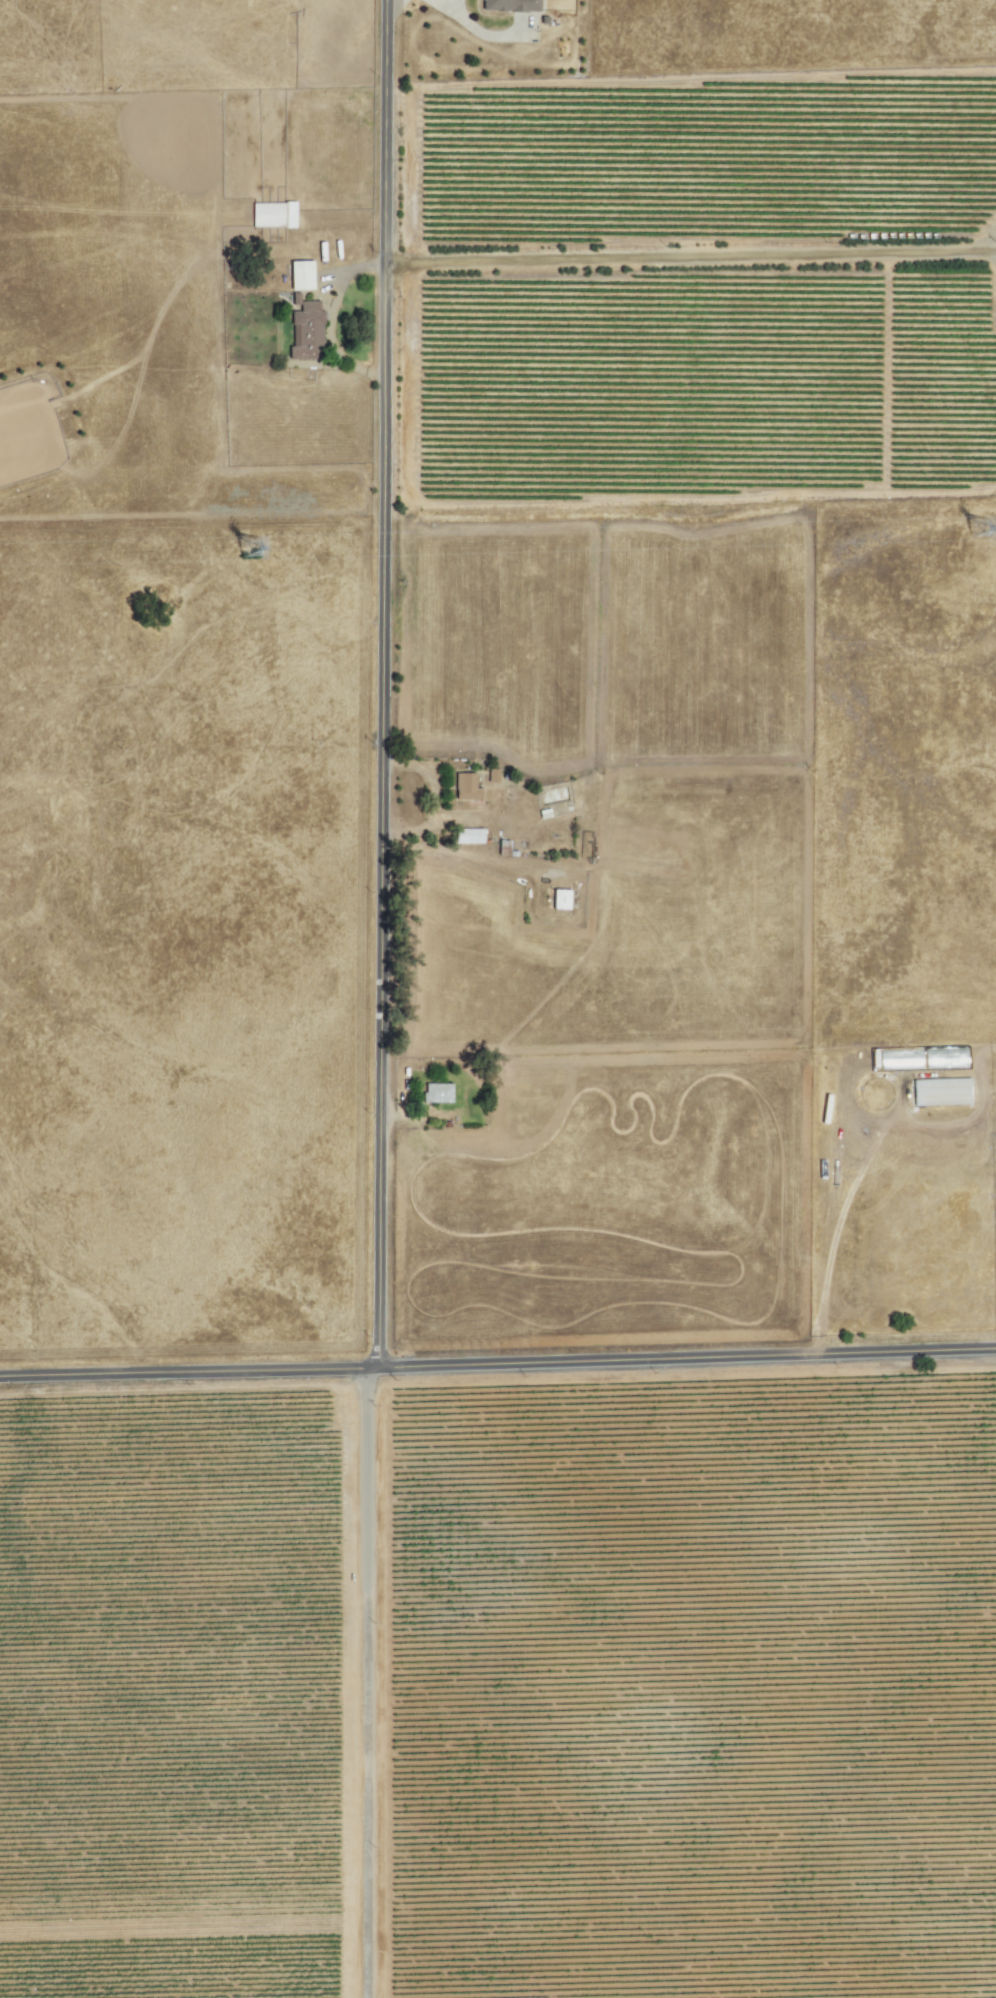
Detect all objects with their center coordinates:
building: (511, 5)
road: (481, 27)
building: (273, 214)
road: (692, 255)
building: (301, 275)
building: (306, 330)
power tower: (984, 530)
power tower: (258, 548)
road: (386, 683)
building: (493, 774)
building: (465, 785)
building: (468, 835)
building: (560, 898)
building: (940, 1091)
building: (437, 1092)
road: (498, 1364)
road: (367, 1683)

